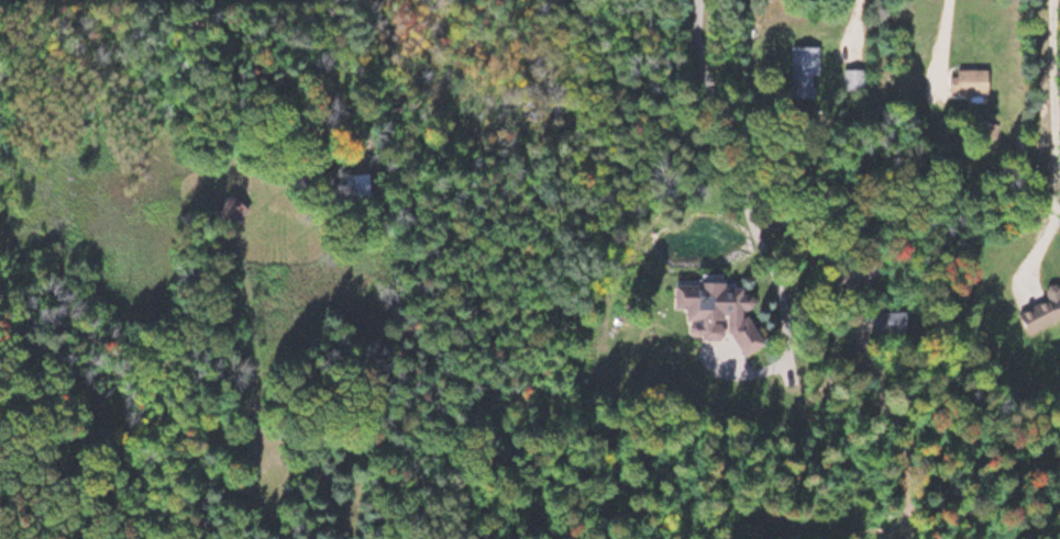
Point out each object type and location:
building: (803, 67)
building: (852, 77)
building: (967, 79)
building: (986, 128)
building: (354, 184)
building: (228, 209)
building: (1040, 308)
building: (715, 311)
building: (879, 322)

